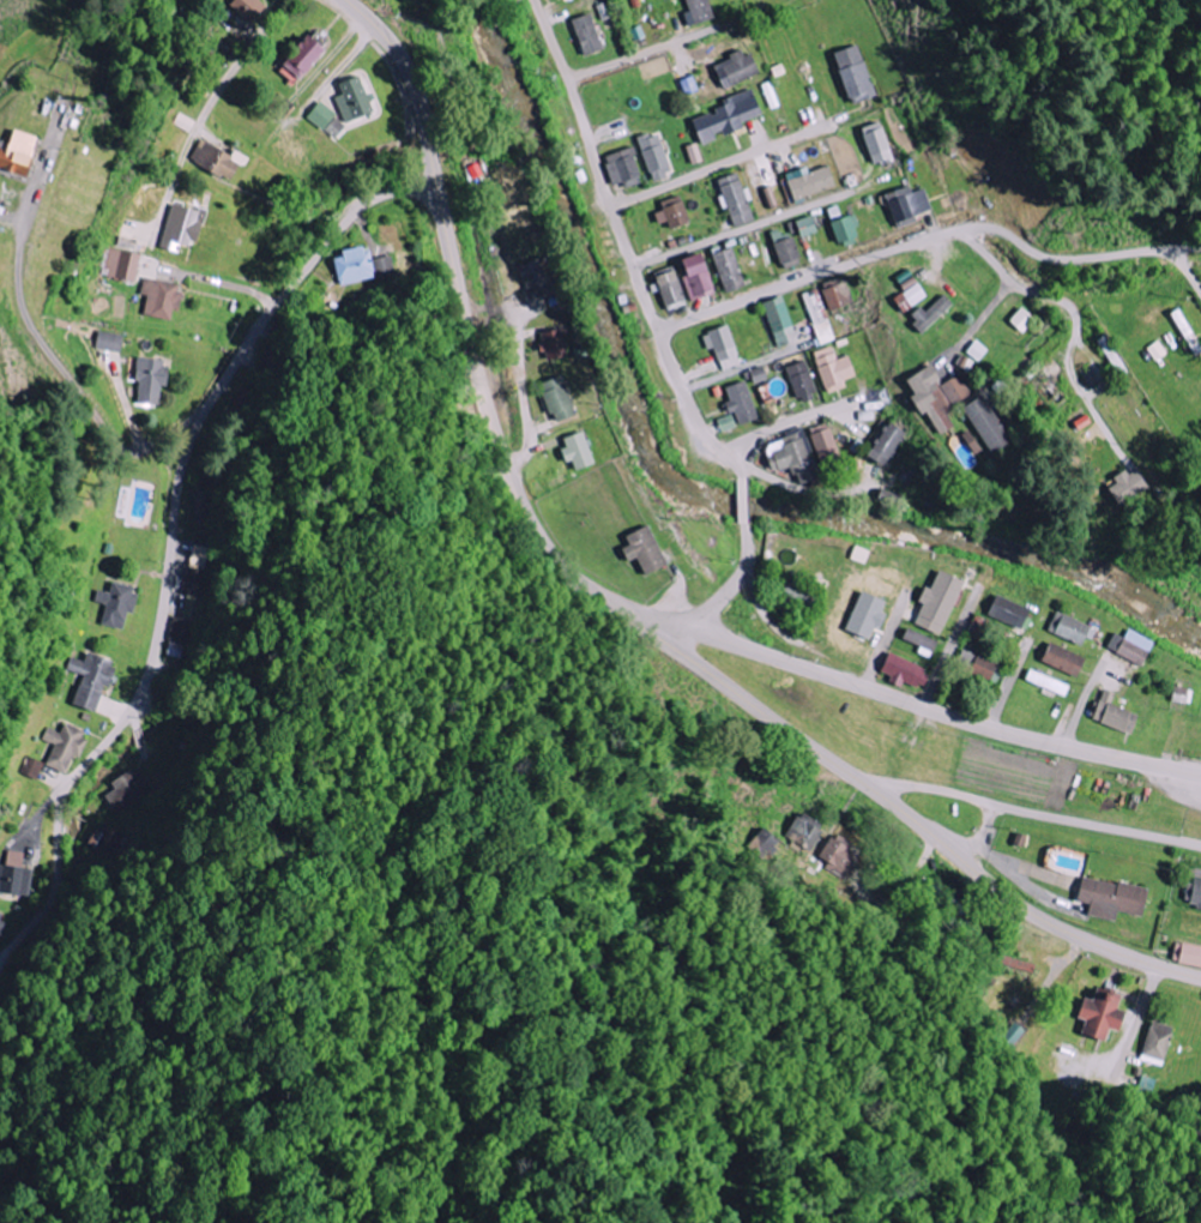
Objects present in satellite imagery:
building: (245, 7)
building: (694, 12)
building: (634, 32)
building: (583, 35)
building: (312, 41)
road: (647, 53)
building: (294, 59)
road: (239, 62)
building: (732, 70)
building: (852, 74)
building: (770, 95)
building: (348, 98)
building: (316, 115)
building: (724, 116)
road: (612, 139)
building: (874, 143)
building: (11, 151)
building: (692, 153)
road: (752, 153)
building: (651, 156)
building: (213, 161)
building: (618, 168)
building: (804, 182)
building: (767, 197)
building: (732, 199)
building: (904, 205)
building: (668, 212)
road: (755, 227)
building: (802, 227)
building: (175, 228)
building: (840, 229)
road: (927, 239)
building: (784, 253)
building: (121, 265)
building: (352, 266)
building: (384, 266)
road: (1187, 267)
building: (725, 270)
building: (692, 277)
building: (665, 289)
road: (1033, 293)
building: (834, 296)
building: (157, 297)
building: (906, 299)
building: (925, 314)
building: (816, 317)
building: (1020, 319)
building: (774, 321)
building: (1185, 331)
building: (113, 341)
building: (547, 344)
building: (719, 347)
building: (976, 350)
building: (1155, 350)
building: (1110, 356)
building: (831, 369)
road: (734, 372)
building: (753, 375)
building: (153, 378)
building: (797, 379)
building: (935, 397)
building: (554, 399)
building: (737, 403)
road: (784, 421)
building: (983, 424)
building: (965, 441)
building: (882, 445)
building: (822, 448)
building: (574, 452)
road: (729, 453)
building: (784, 453)
road: (742, 480)
building: (1123, 487)
road: (793, 488)
road: (170, 543)
building: (640, 550)
building: (857, 555)
building: (197, 578)
building: (789, 594)
building: (116, 603)
building: (935, 603)
road: (627, 609)
building: (1003, 611)
building: (862, 616)
road: (677, 622)
building: (1068, 628)
building: (179, 637)
building: (916, 640)
road: (885, 645)
building: (1131, 646)
road: (946, 657)
building: (1060, 659)
building: (976, 665)
building: (901, 671)
building: (93, 679)
building: (1045, 683)
road: (1009, 688)
road: (1080, 709)
building: (1109, 715)
building: (65, 746)
road: (1133, 761)
building: (34, 770)
building: (129, 790)
road: (1028, 812)
building: (802, 832)
building: (108, 839)
building: (761, 844)
building: (835, 856)
building: (16, 874)
building: (1193, 893)
building: (1108, 898)
building: (2, 923)
road: (948, 942)
building: (1185, 954)
building: (1094, 1014)
road: (1137, 1020)
building: (1009, 1034)
building: (1155, 1042)

